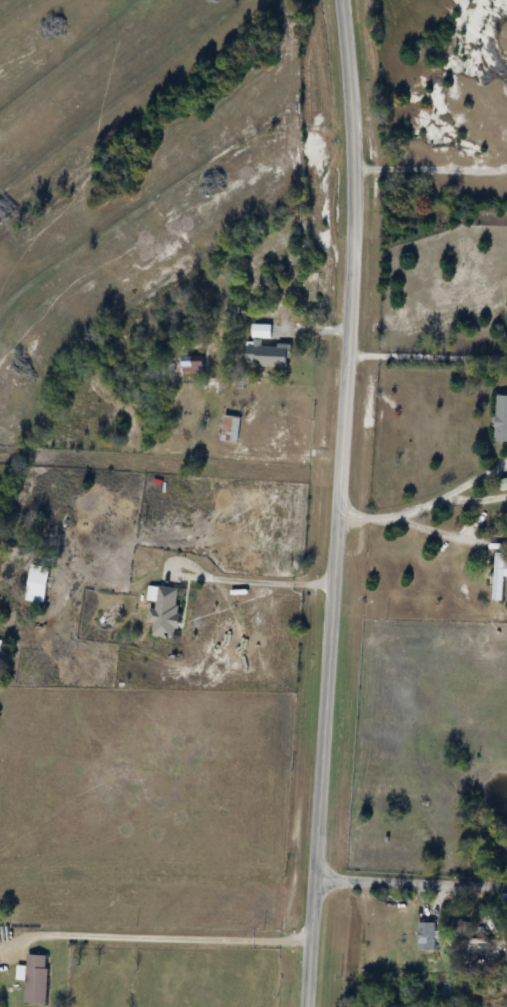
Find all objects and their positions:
road: (430, 167)
road: (427, 354)
building: (267, 355)
building: (194, 366)
building: (502, 420)
building: (232, 429)
road: (474, 479)
road: (473, 498)
road: (340, 503)
road: (391, 513)
road: (448, 529)
road: (236, 577)
building: (500, 577)
building: (39, 585)
building: (165, 612)
building: (1, 647)
road: (411, 882)
road: (165, 937)
building: (427, 938)
building: (483, 957)
building: (36, 980)

